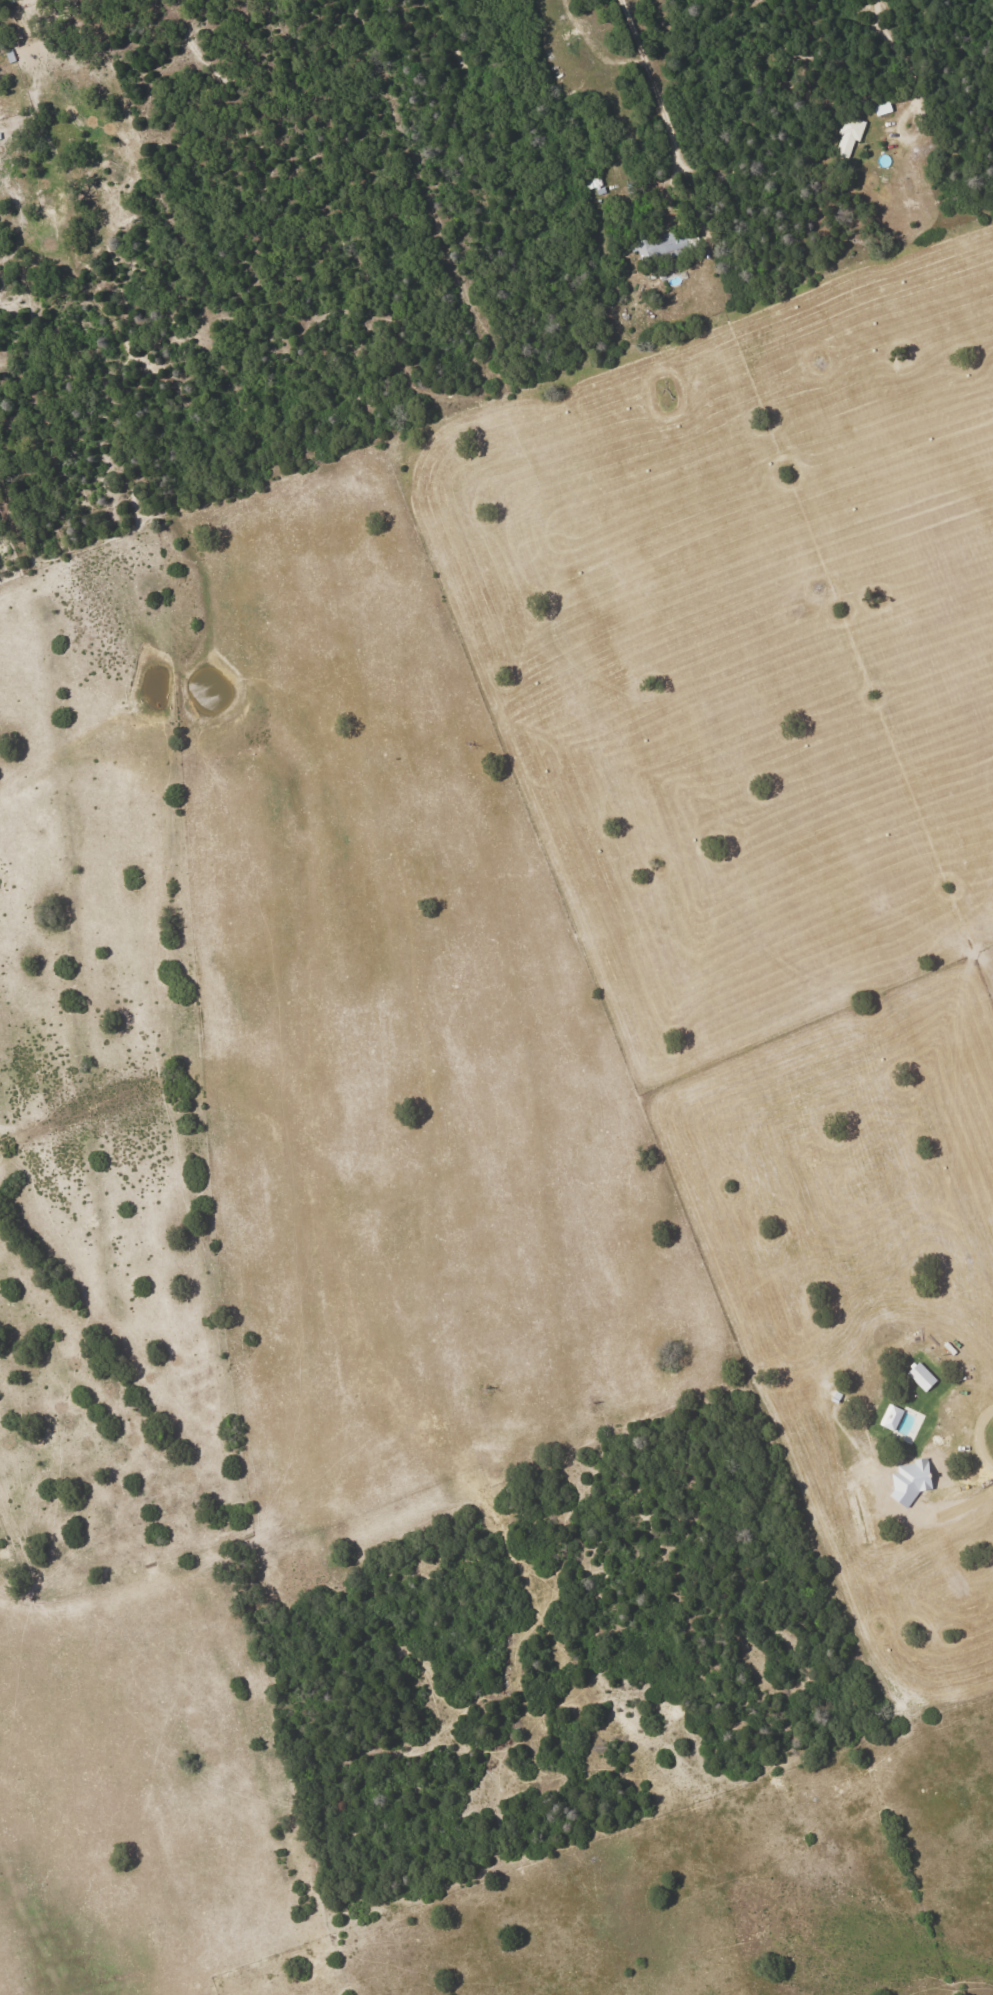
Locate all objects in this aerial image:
road: (895, 49)
building: (882, 109)
road: (661, 118)
road: (899, 134)
building: (849, 137)
building: (921, 1377)
building: (890, 1417)

